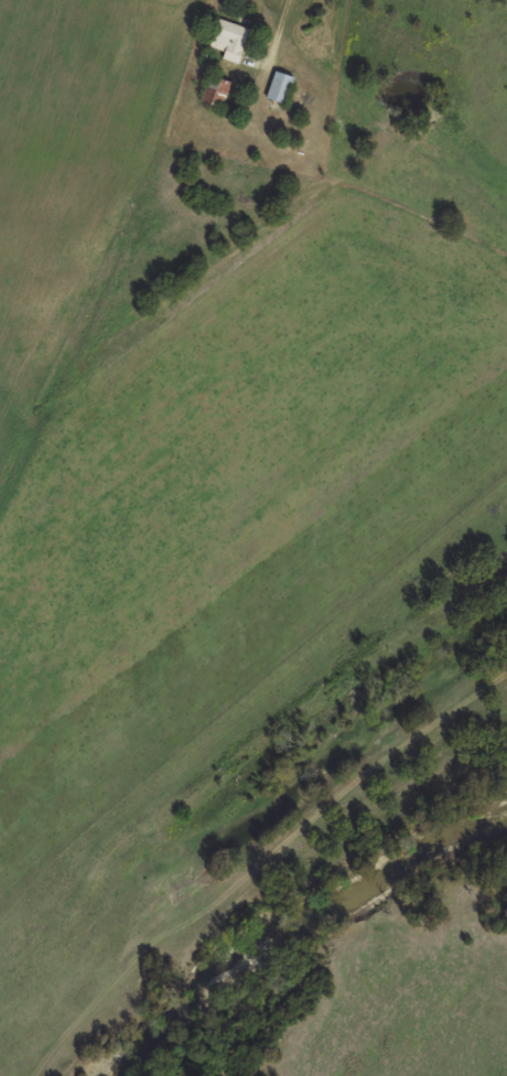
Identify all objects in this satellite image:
building: (227, 36)
building: (278, 87)
building: (213, 90)

